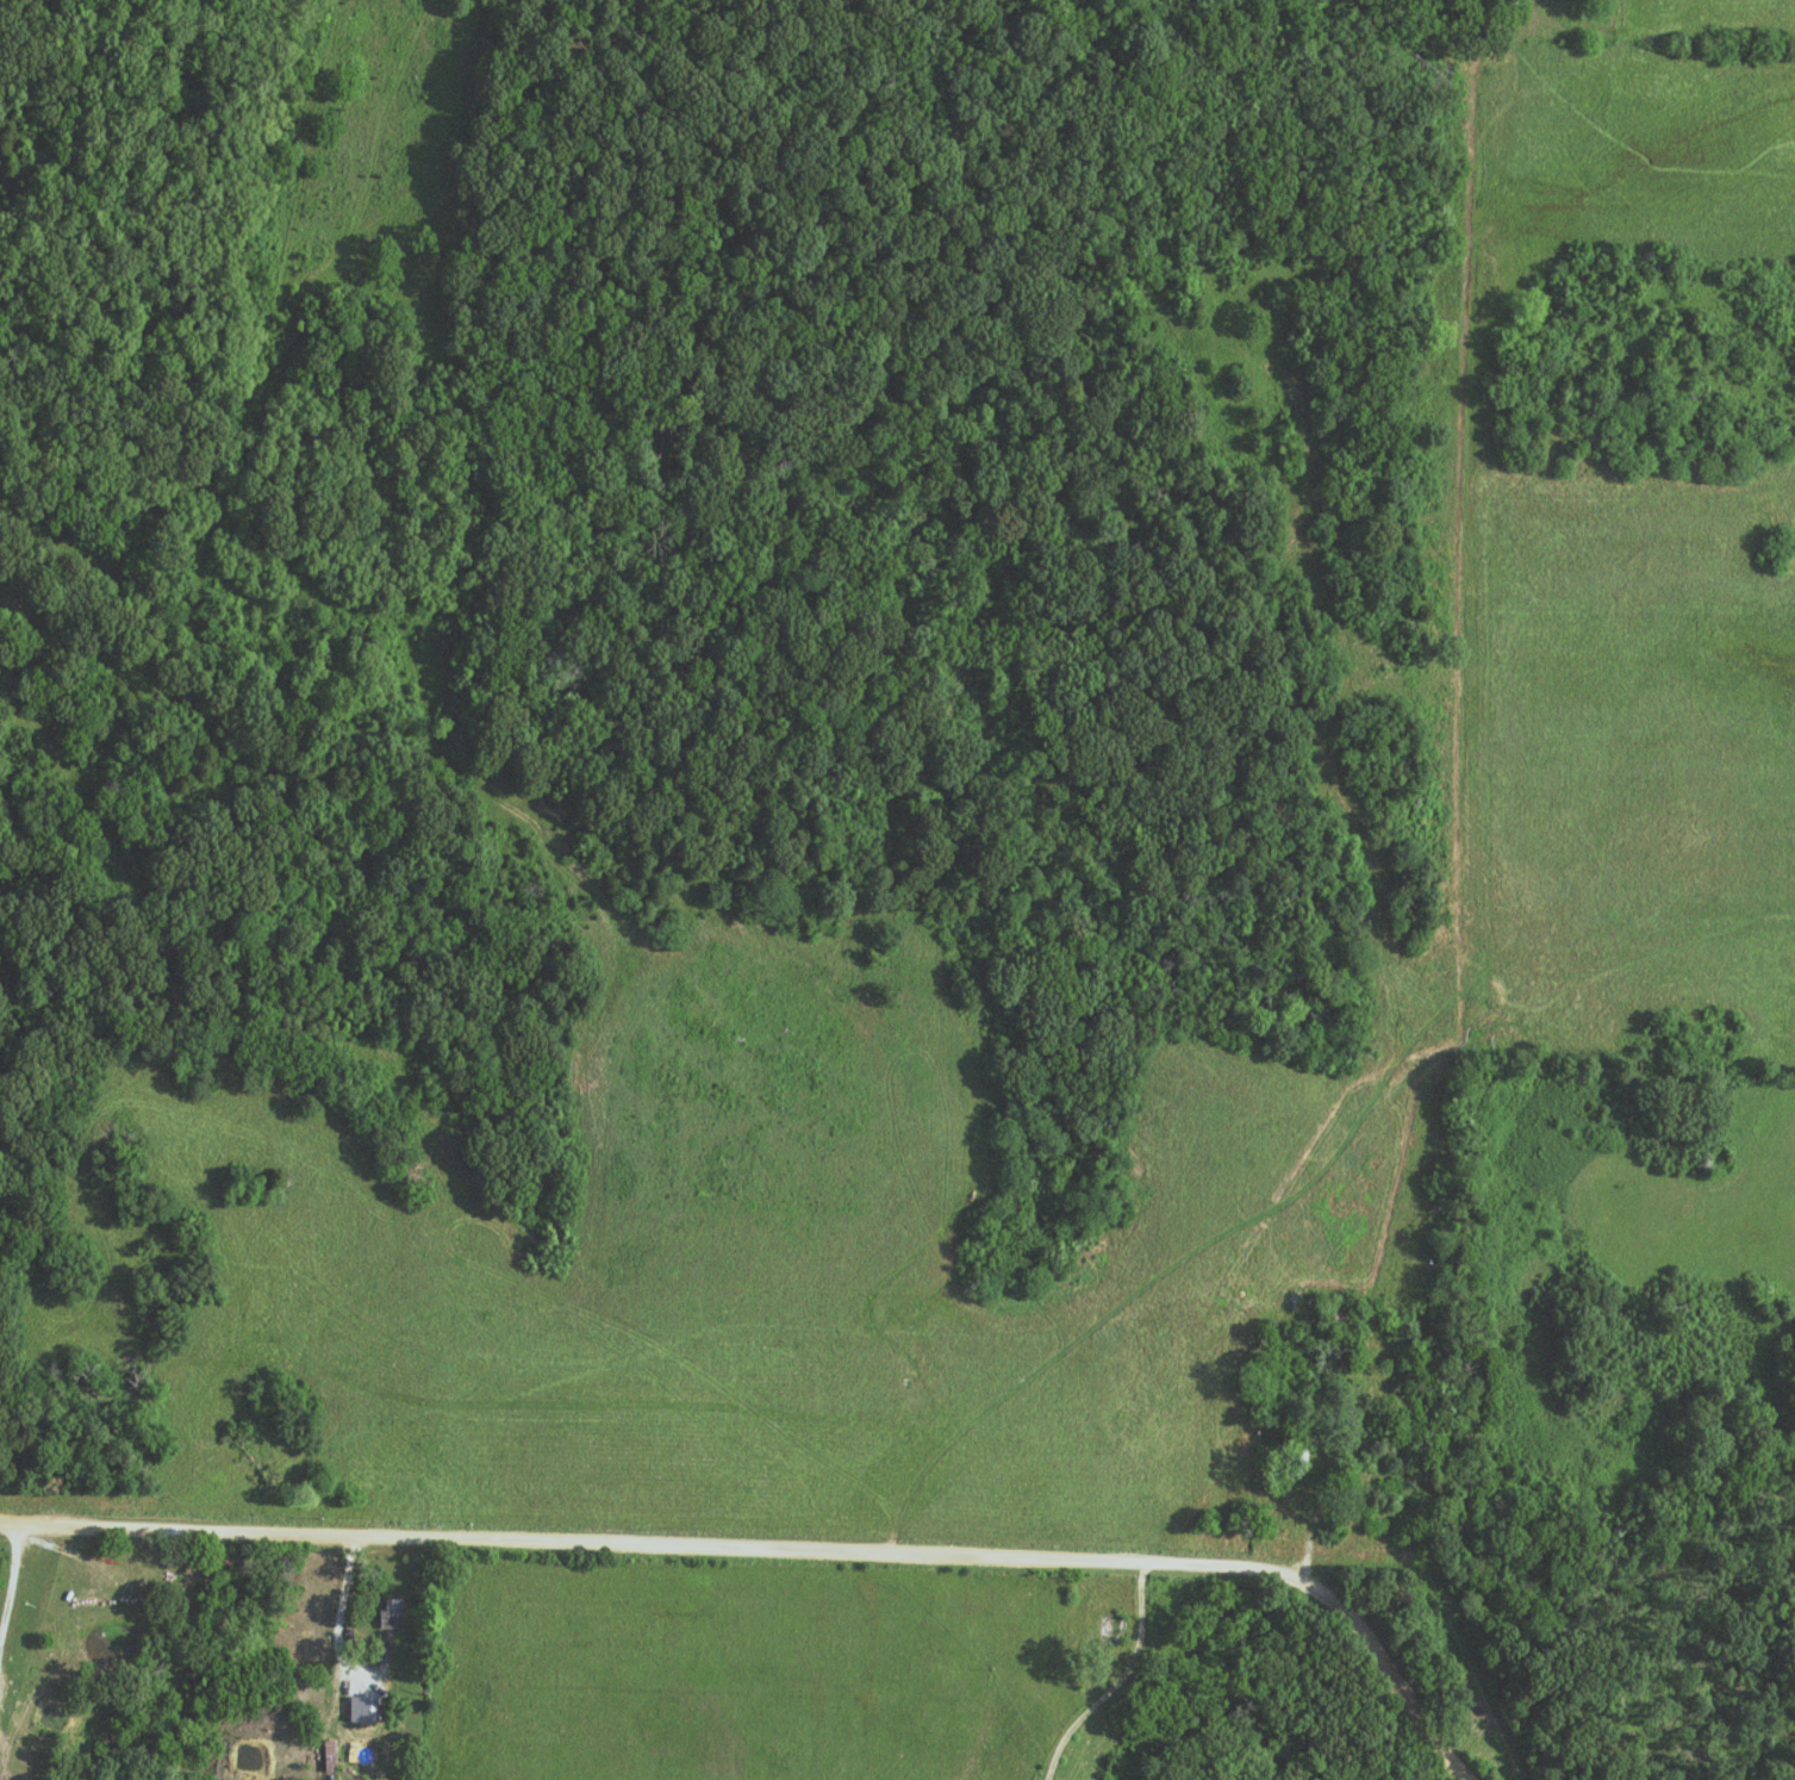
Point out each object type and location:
building: (1336, 1319)
building: (1296, 1455)
road: (1317, 1495)
road: (662, 1544)
building: (391, 1614)
building: (1111, 1631)
road: (1397, 1680)
road: (1134, 1683)

